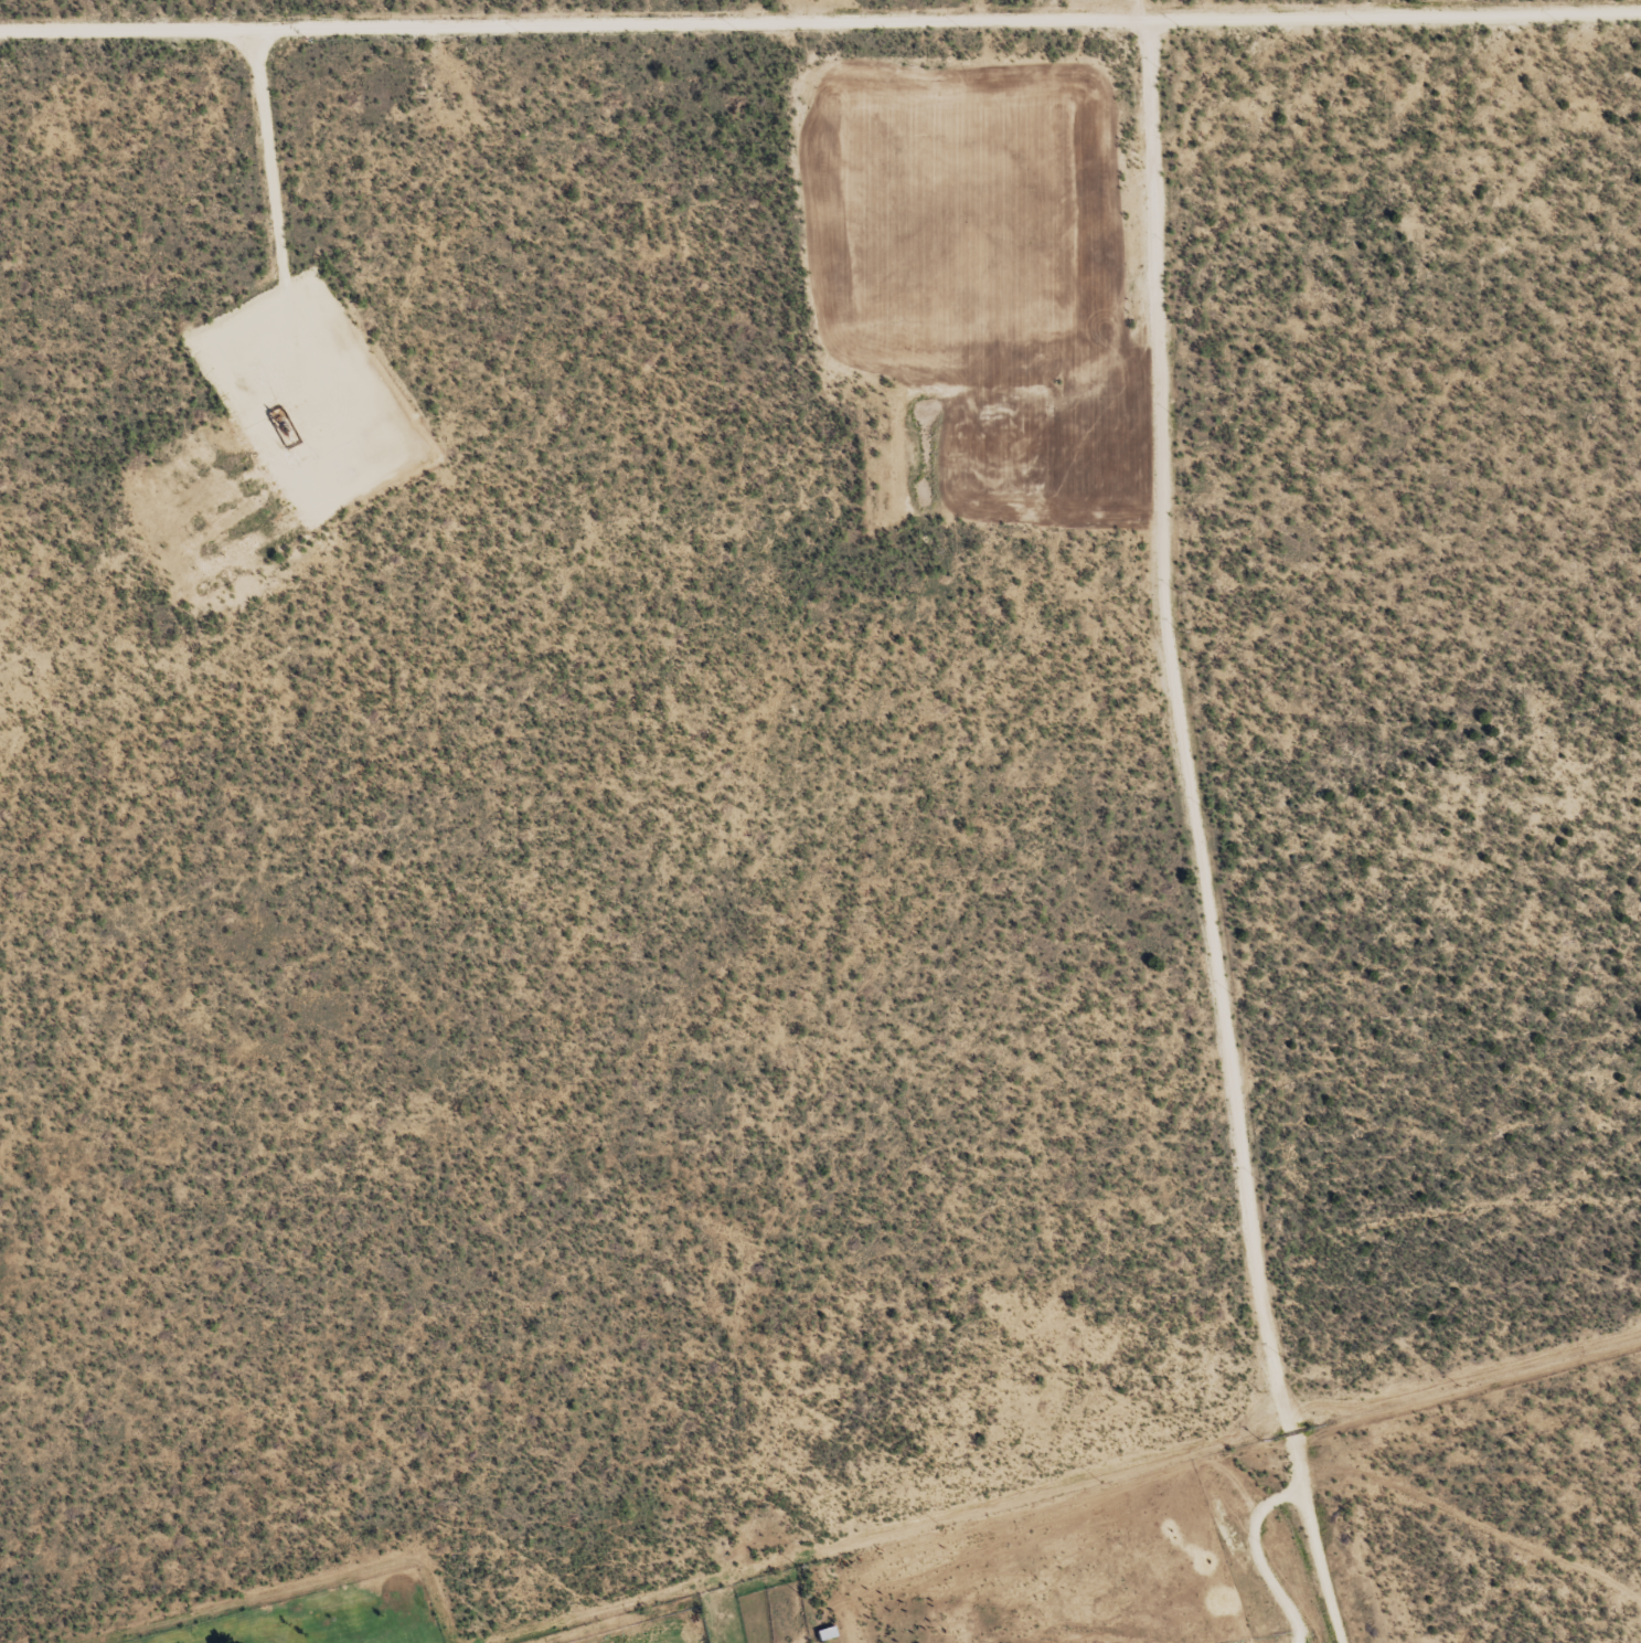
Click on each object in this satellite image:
building: (829, 1633)

